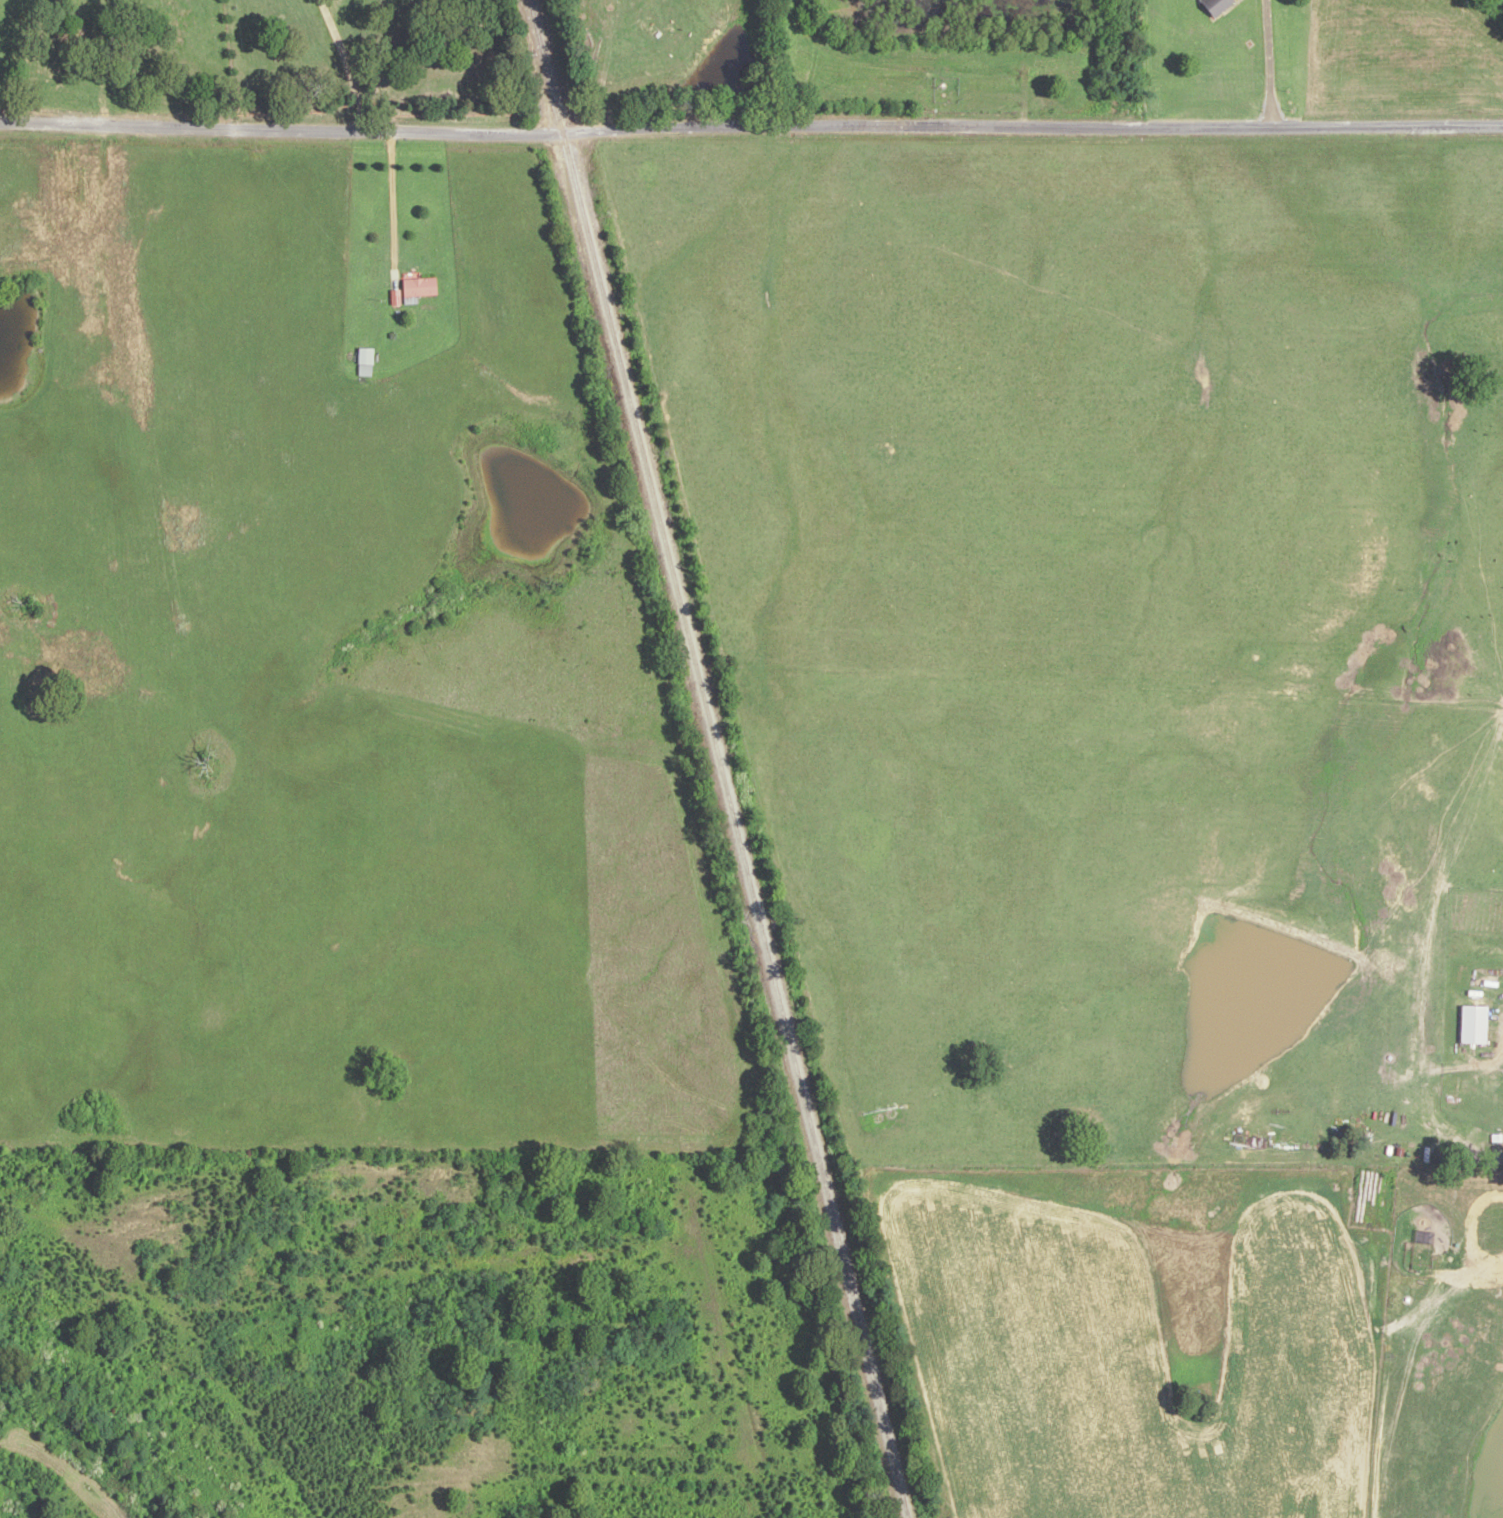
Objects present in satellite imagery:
building: (1217, 6)
road: (1269, 62)
road: (751, 128)
building: (418, 288)
railway: (716, 758)
building: (1474, 1024)

